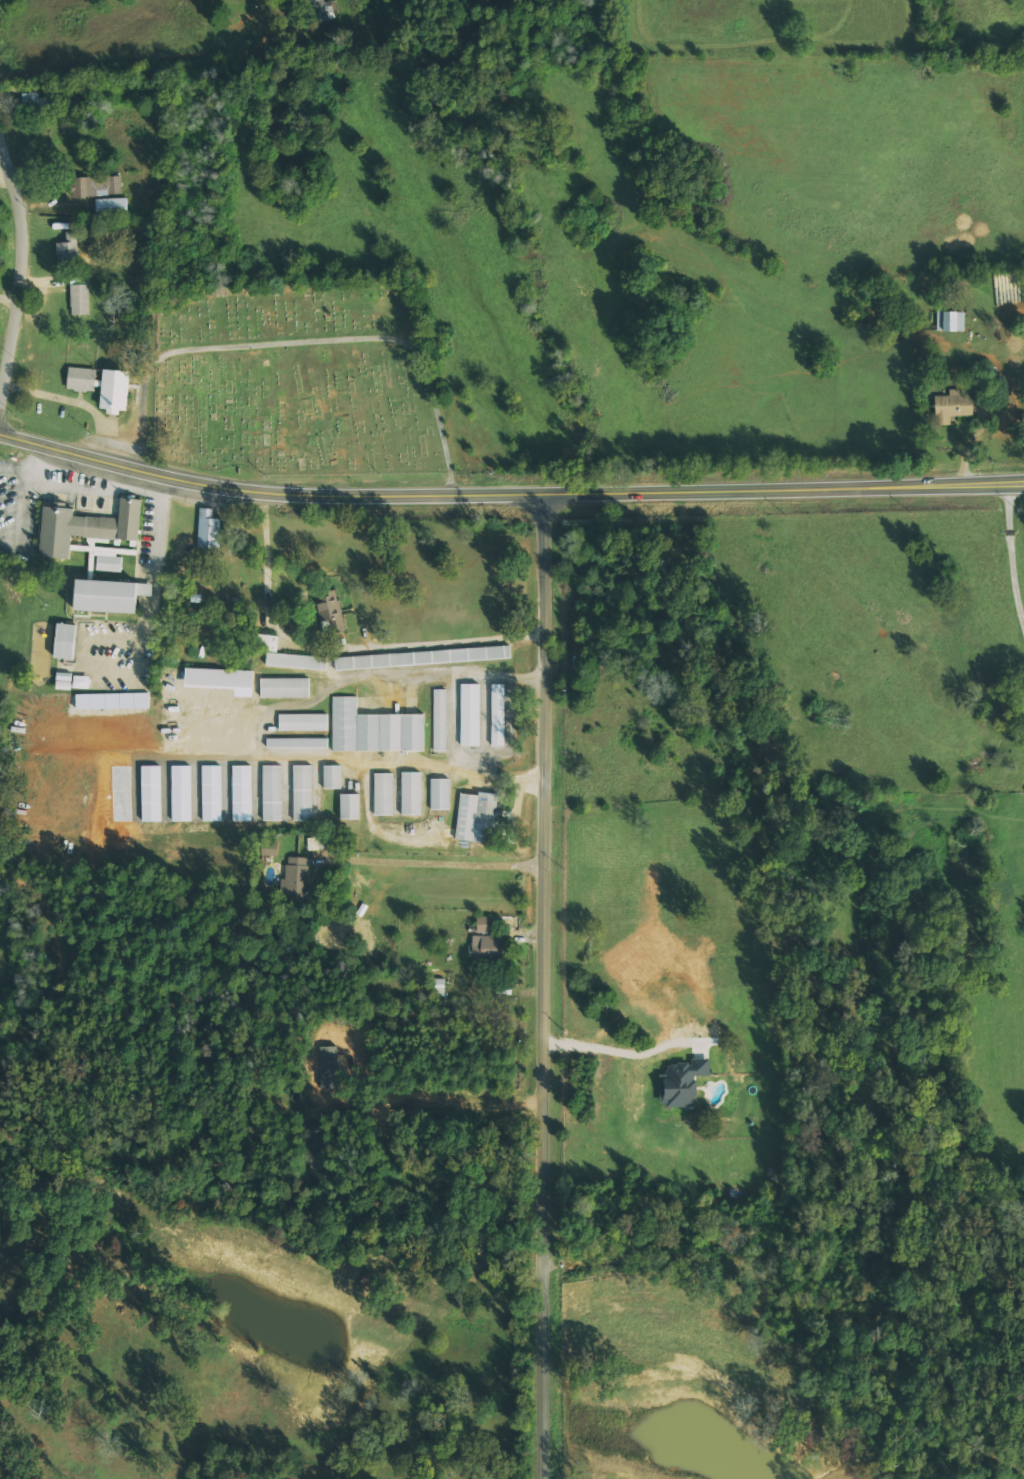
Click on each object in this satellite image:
building: (322, 9)
building: (32, 98)
building: (96, 186)
building: (111, 206)
building: (69, 247)
road: (30, 270)
building: (79, 293)
building: (951, 320)
park: (303, 382)
building: (101, 386)
building: (951, 406)
road: (508, 492)
building: (84, 526)
building: (208, 531)
building: (108, 563)
building: (106, 594)
building: (330, 612)
building: (64, 641)
building: (266, 642)
building: (422, 657)
building: (297, 661)
building: (221, 679)
building: (63, 680)
building: (81, 681)
building: (285, 687)
building: (112, 700)
building: (469, 714)
building: (498, 714)
building: (439, 719)
building: (303, 722)
building: (374, 729)
building: (297, 742)
building: (302, 777)
building: (332, 777)
building: (151, 793)
building: (181, 793)
building: (212, 793)
building: (242, 793)
building: (272, 793)
building: (411, 793)
building: (439, 793)
building: (383, 794)
building: (302, 804)
building: (349, 806)
building: (475, 816)
building: (269, 848)
road: (456, 869)
building: (298, 878)
building: (483, 924)
building: (486, 947)
building: (439, 985)
road: (551, 985)
building: (681, 1082)

